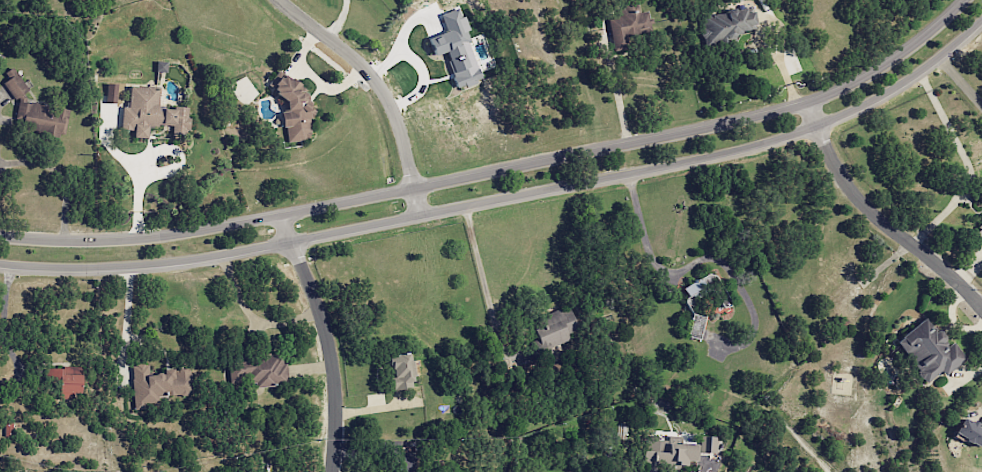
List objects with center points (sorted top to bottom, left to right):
building: (626, 24)
building: (726, 24)
building: (453, 48)
road: (960, 84)
road: (379, 87)
building: (109, 92)
building: (291, 107)
building: (33, 109)
building: (148, 112)
road: (500, 171)
road: (507, 199)
road: (879, 219)
building: (977, 230)
road: (689, 269)
road: (483, 283)
building: (692, 305)
road: (127, 315)
road: (250, 317)
road: (4, 318)
building: (552, 329)
road: (327, 341)
building: (924, 350)
building: (256, 370)
building: (396, 370)
building: (61, 384)
building: (156, 384)
building: (965, 432)
building: (705, 444)
building: (667, 452)

